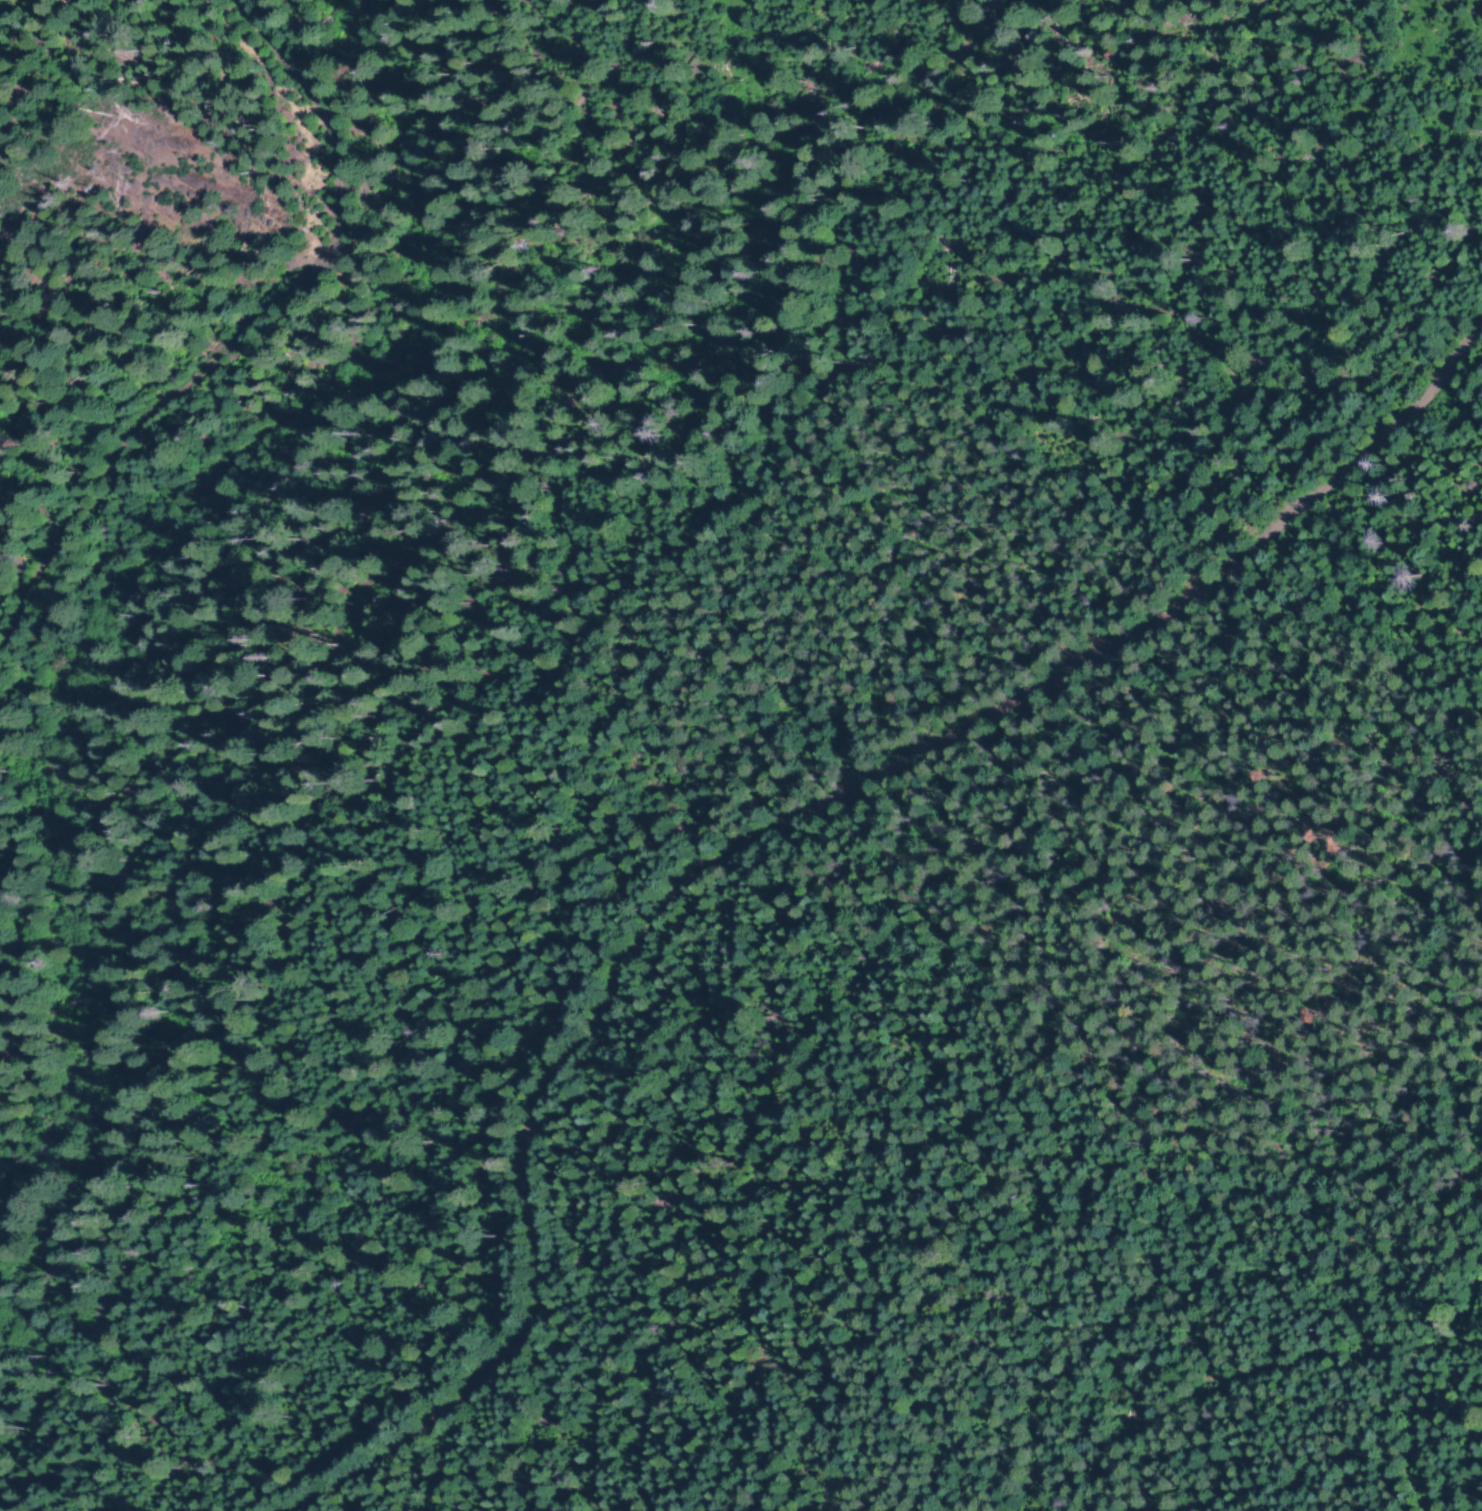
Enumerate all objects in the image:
road: (1475, 16)
road: (1190, 25)
road: (270, 35)
road: (199, 366)
road: (771, 828)

